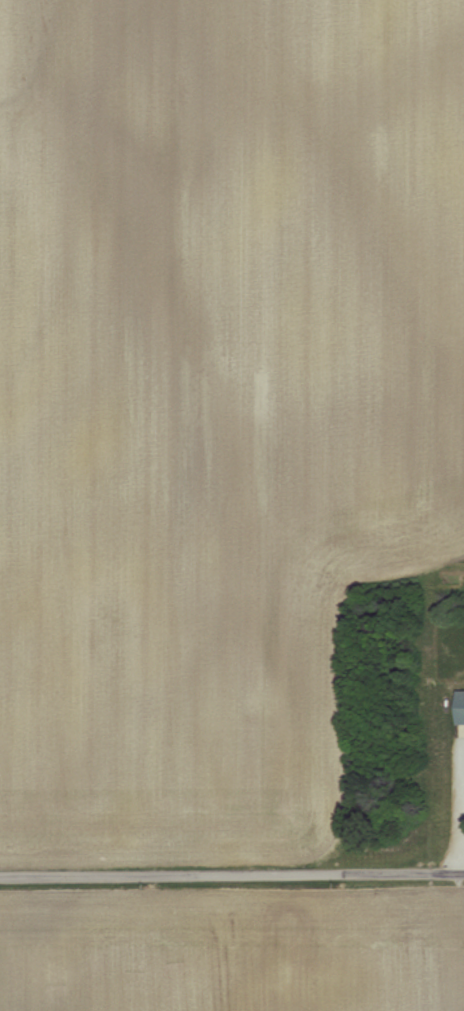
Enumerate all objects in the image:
building: (462, 706)
building: (461, 730)
road: (460, 827)
road: (231, 872)

